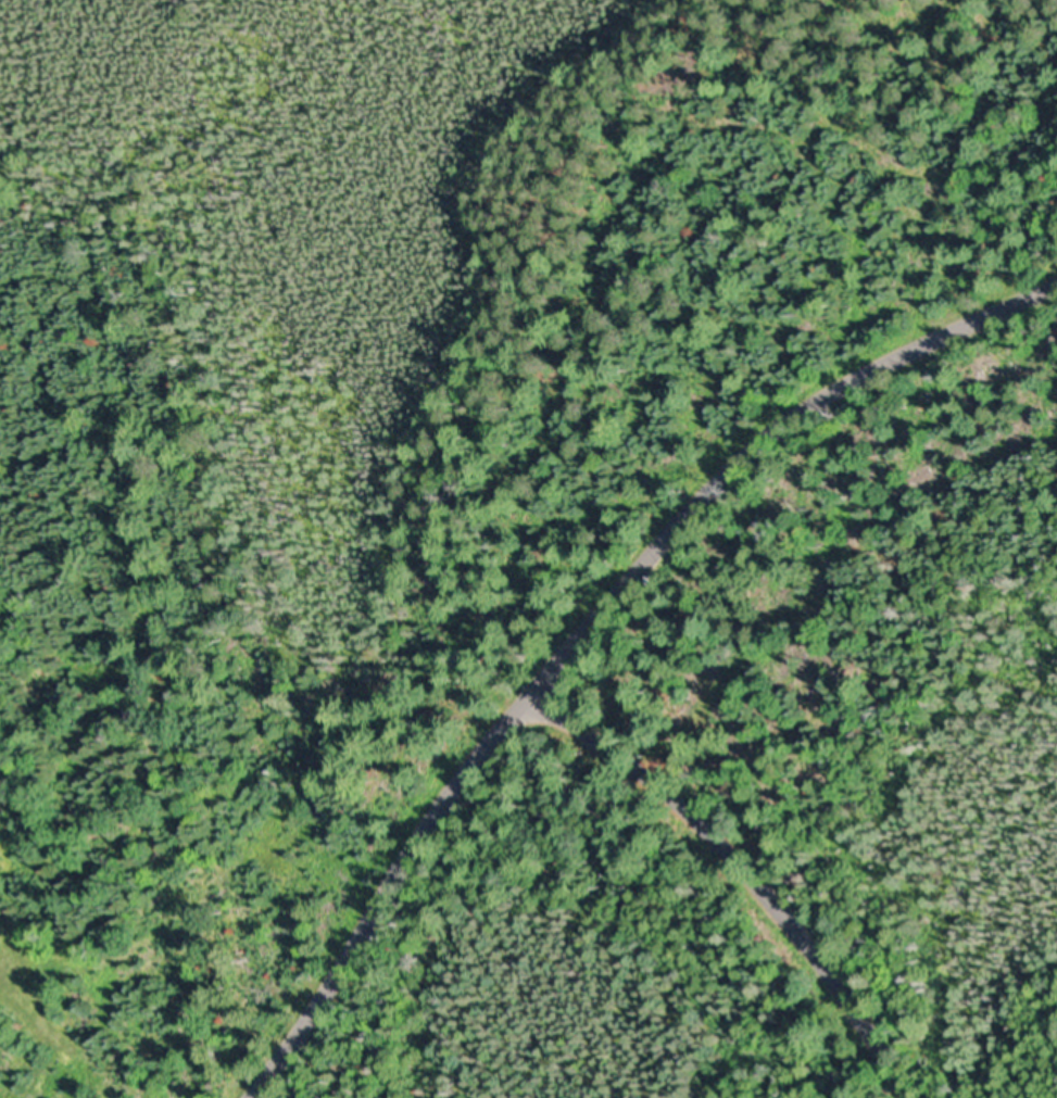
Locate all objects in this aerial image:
quarry: (18, 132)
road: (588, 620)
road: (993, 805)
road: (730, 882)

